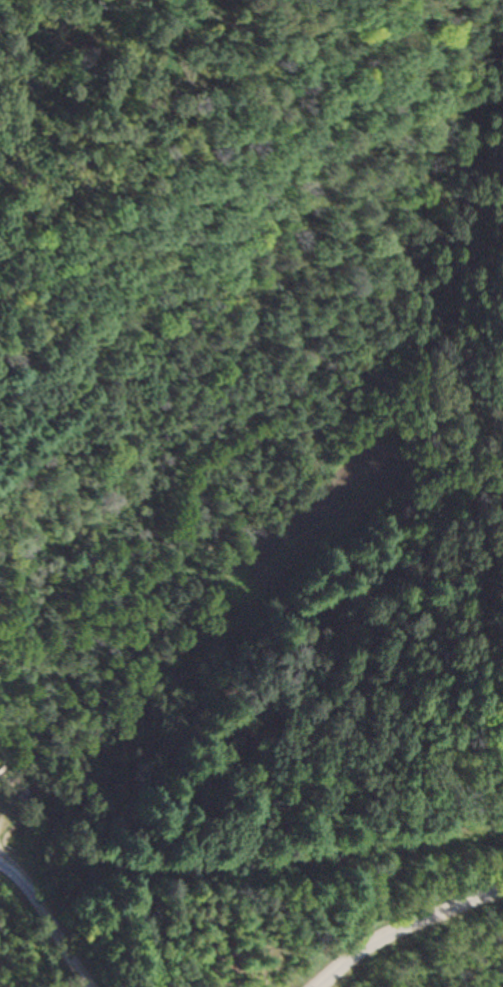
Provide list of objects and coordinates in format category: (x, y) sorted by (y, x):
road: (50, 930)
road: (411, 945)

